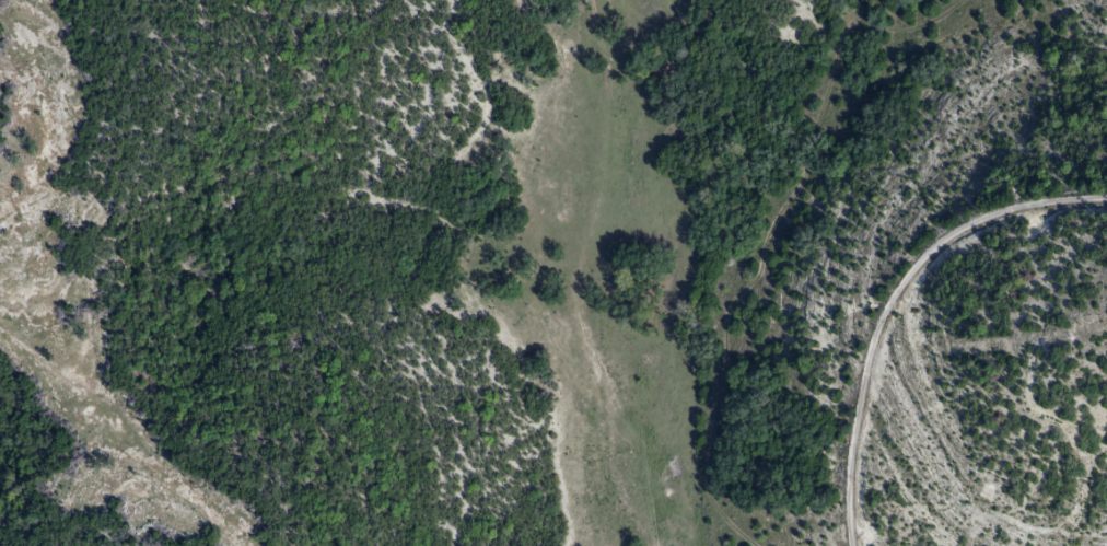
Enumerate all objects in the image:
road: (893, 300)
road: (590, 453)

